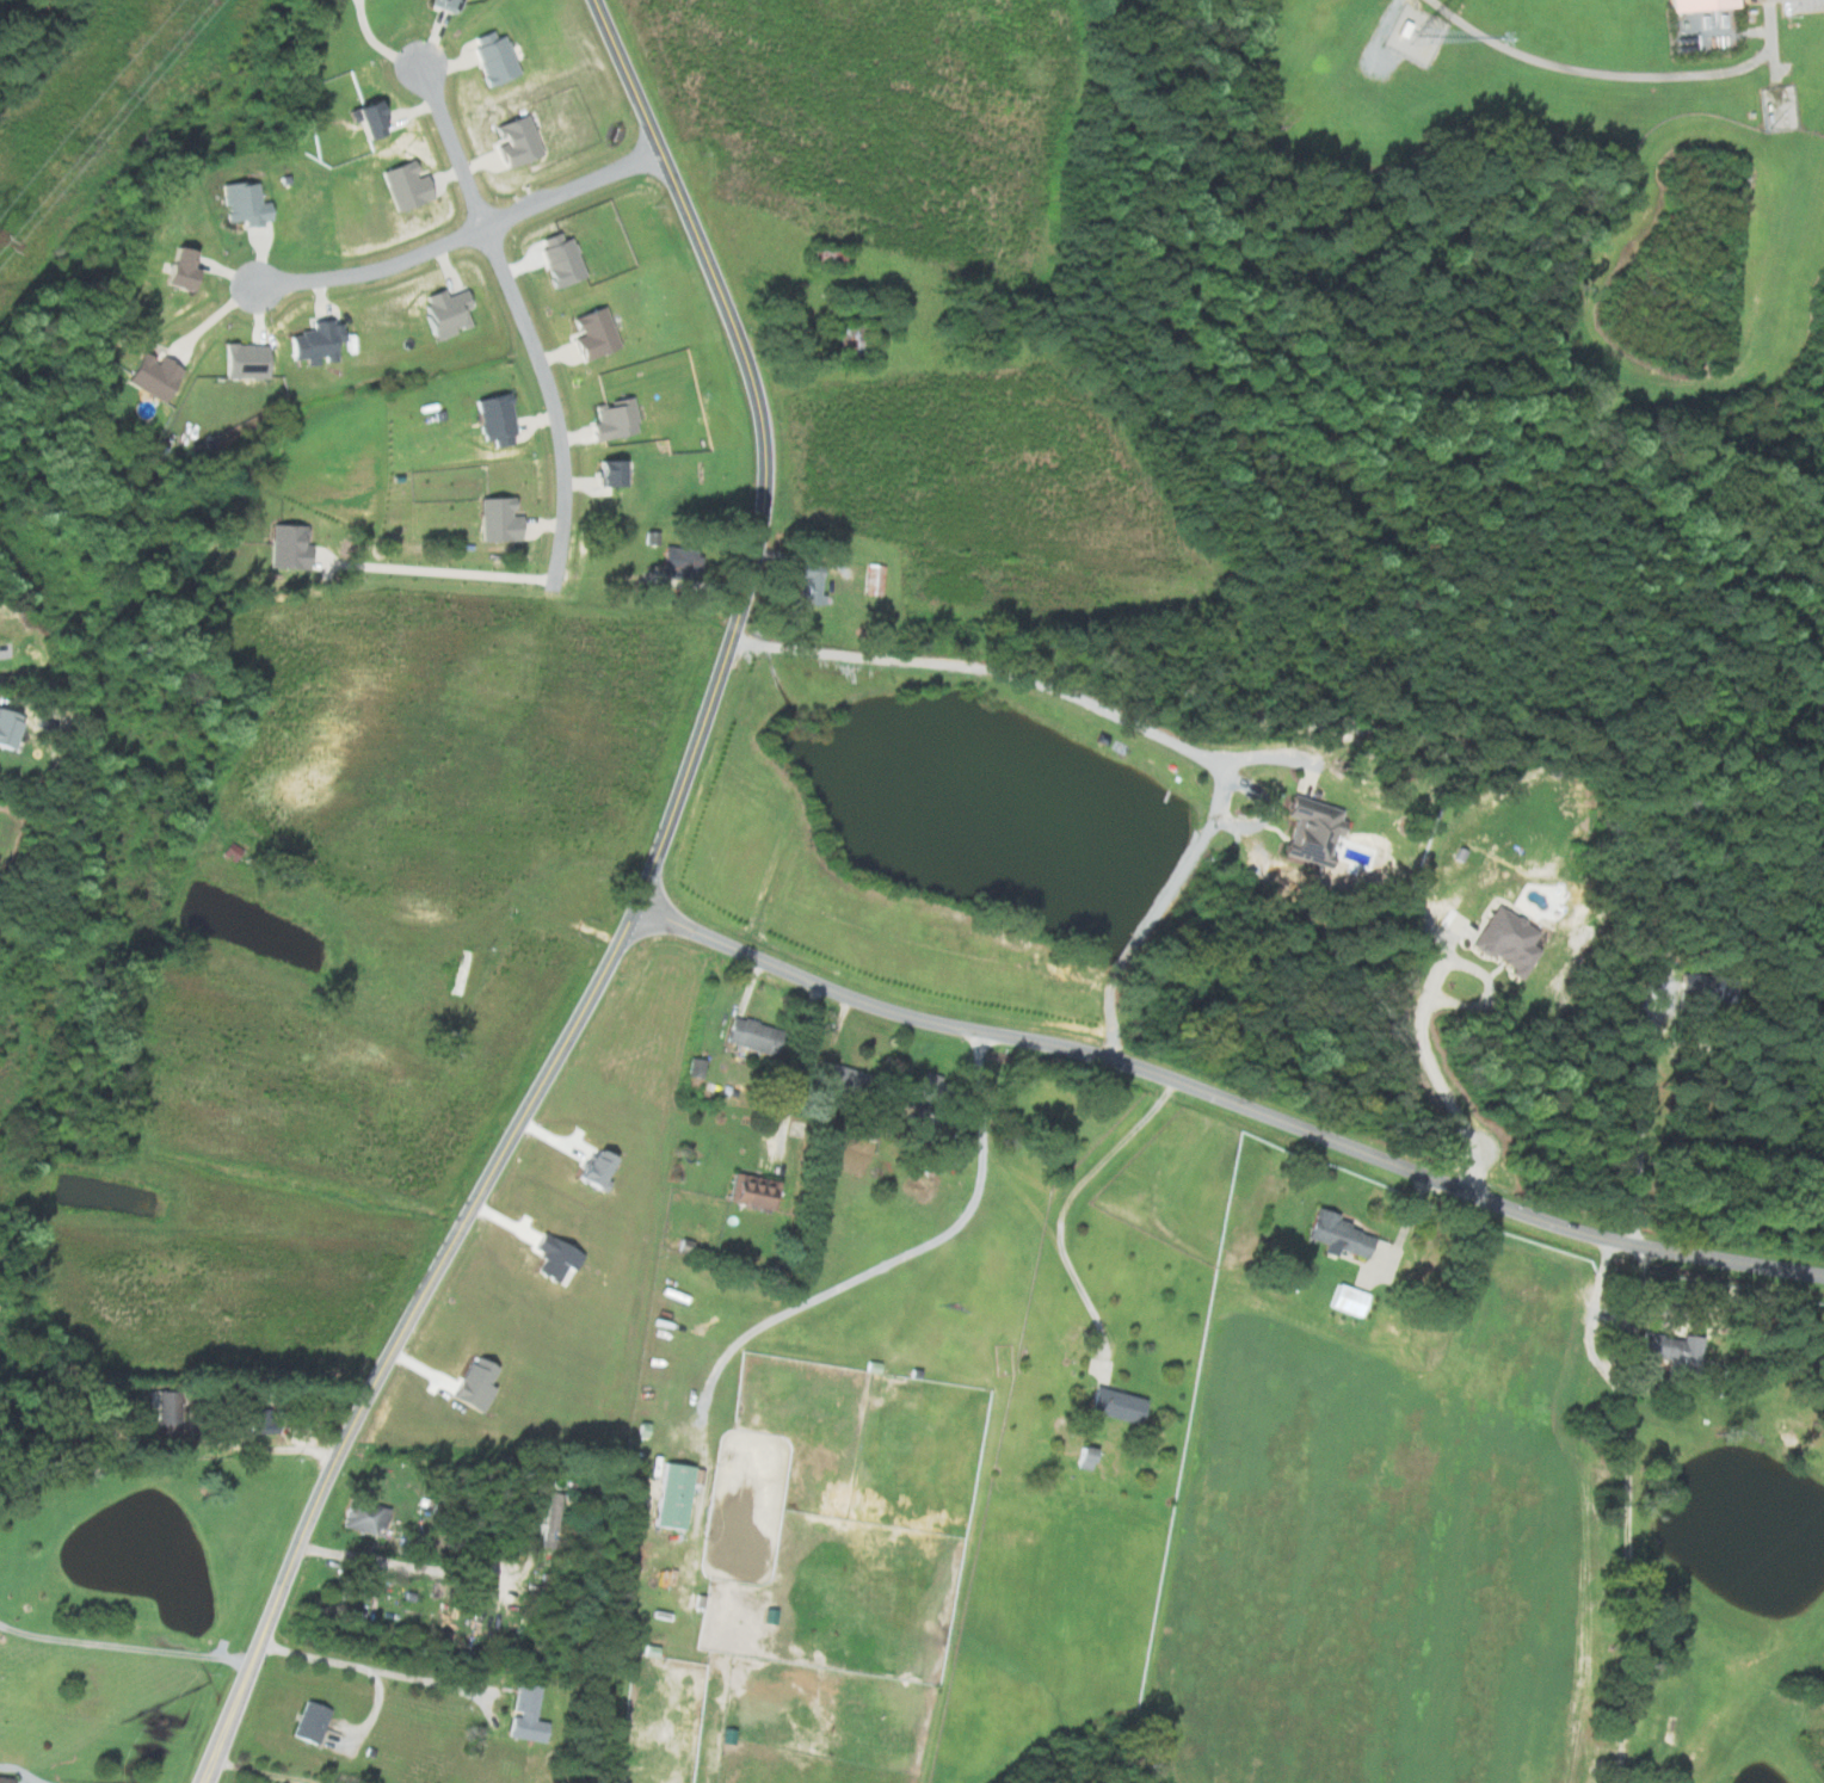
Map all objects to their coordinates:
building: (1694, 4)
building: (440, 5)
building: (491, 56)
building: (514, 141)
road: (446, 147)
building: (402, 186)
building: (244, 204)
road: (463, 227)
building: (822, 257)
building: (560, 259)
building: (174, 267)
building: (443, 314)
building: (592, 333)
building: (313, 344)
building: (242, 362)
building: (150, 376)
road: (550, 397)
building: (493, 419)
building: (614, 421)
building: (606, 474)
building: (495, 522)
building: (286, 548)
road: (451, 563)
building: (680, 567)
building: (873, 580)
building: (808, 585)
road: (6, 653)
road: (1140, 724)
building: (5, 729)
building: (1310, 828)
road: (635, 917)
building: (1505, 940)
building: (1706, 987)
building: (750, 1035)
road: (797, 1065)
road: (1434, 1073)
building: (834, 1075)
road: (1228, 1103)
road: (1638, 1122)
building: (752, 1191)
road: (1065, 1205)
building: (1335, 1234)
road: (894, 1254)
building: (1347, 1300)
building: (1669, 1349)
building: (1114, 1405)
building: (252, 1421)
road: (285, 1443)
building: (1084, 1457)
building: (672, 1495)
road: (1583, 1503)
building: (369, 1517)
building: (549, 1520)
road: (427, 1569)
road: (125, 1646)
road: (378, 1670)
building: (530, 1714)
building: (314, 1722)
road: (281, 1766)
road: (82, 1778)
building: (4, 1779)

